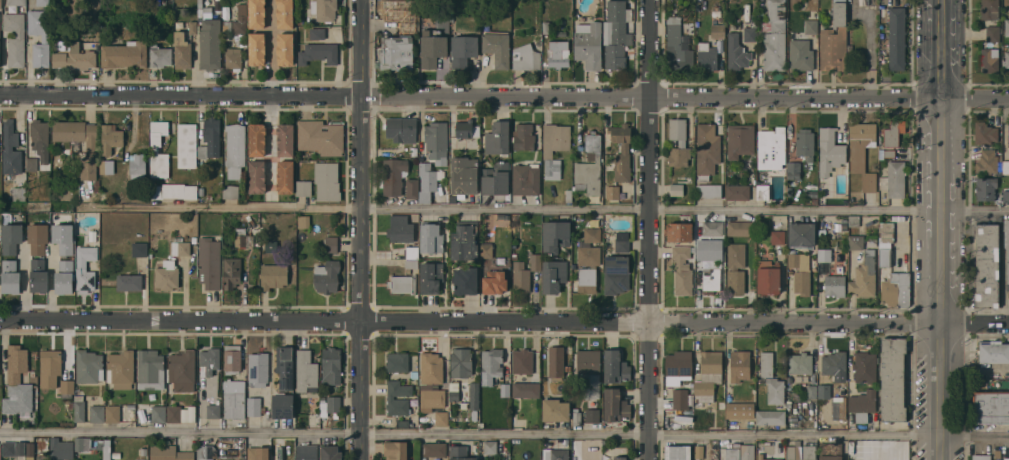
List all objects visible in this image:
building: (217, 0)
building: (16, 2)
building: (44, 2)
building: (0, 3)
building: (324, 9)
building: (989, 9)
building: (257, 13)
building: (285, 13)
building: (241, 19)
building: (300, 20)
building: (811, 22)
building: (227, 25)
building: (193, 27)
building: (545, 27)
building: (1007, 27)
building: (718, 30)
building: (317, 33)
building: (616, 33)
building: (749, 33)
building: (993, 33)
building: (774, 36)
building: (210, 37)
building: (15, 38)
building: (897, 38)
building: (45, 39)
building: (834, 39)
building: (589, 44)
road: (271, 47)
building: (497, 47)
building: (678, 47)
building: (257, 48)
building: (285, 48)
building: (0, 49)
building: (182, 50)
building: (433, 50)
building: (463, 50)
building: (396, 52)
building: (737, 52)
building: (319, 53)
building: (558, 53)
building: (125, 54)
building: (801, 54)
building: (160, 55)
building: (707, 56)
building: (75, 57)
building: (526, 57)
building: (234, 58)
building: (989, 59)
building: (1007, 59)
road: (504, 95)
building: (402, 129)
building: (466, 129)
building: (893, 132)
building: (985, 133)
building: (1008, 134)
building: (111, 137)
building: (321, 137)
building: (524, 137)
building: (211, 138)
building: (498, 138)
building: (257, 139)
building: (285, 139)
building: (436, 139)
building: (740, 140)
building: (41, 141)
building: (678, 142)
building: (805, 142)
road: (272, 144)
building: (187, 145)
building: (554, 147)
building: (625, 148)
building: (771, 148)
building: (11, 149)
building: (91, 149)
building: (155, 149)
building: (235, 149)
building: (707, 150)
building: (413, 151)
building: (830, 151)
building: (863, 153)
building: (889, 153)
building: (987, 161)
building: (31, 163)
building: (137, 165)
building: (107, 166)
building: (589, 166)
building: (1005, 167)
building: (793, 170)
building: (425, 171)
building: (1001, 172)
building: (464, 175)
building: (257, 176)
building: (285, 176)
building: (394, 176)
building: (496, 179)
building: (526, 179)
building: (894, 179)
building: (327, 181)
building: (96, 182)
building: (821, 185)
building: (304, 187)
building: (413, 188)
building: (986, 188)
building: (676, 189)
building: (173, 190)
building: (708, 190)
building: (231, 191)
building: (612, 191)
building: (737, 191)
building: (762, 191)
building: (789, 191)
building: (201, 192)
building: (18, 193)
building: (569, 195)
building: (1006, 196)
road: (504, 209)
building: (882, 217)
building: (514, 218)
building: (844, 220)
building: (854, 220)
building: (303, 221)
building: (844, 225)
building: (837, 226)
building: (712, 228)
building: (741, 228)
building: (401, 229)
road: (650, 229)
road: (939, 229)
road: (362, 230)
building: (679, 231)
building: (822, 232)
building: (93, 234)
building: (592, 234)
building: (801, 234)
building: (555, 235)
building: (11, 237)
building: (38, 237)
building: (243, 237)
building: (301, 237)
building: (431, 237)
building: (777, 237)
building: (63, 238)
building: (465, 240)
building: (622, 241)
building: (856, 242)
building: (331, 244)
building: (271, 245)
building: (180, 246)
building: (1007, 247)
building: (139, 249)
building: (486, 249)
building: (710, 249)
building: (502, 250)
building: (412, 252)
building: (92, 253)
building: (824, 254)
building: (885, 254)
building: (514, 256)
building: (210, 262)
building: (535, 262)
building: (411, 263)
building: (987, 265)
building: (735, 268)
building: (682, 269)
building: (232, 272)
building: (616, 273)
building: (801, 273)
building: (38, 275)
building: (167, 275)
building: (273, 275)
building: (554, 275)
building: (11, 276)
building: (64, 276)
building: (327, 276)
building: (587, 276)
building: (864, 276)
building: (431, 277)
building: (520, 277)
building: (768, 277)
building: (85, 278)
building: (465, 279)
building: (712, 280)
building: (129, 282)
building: (495, 282)
building: (403, 283)
building: (835, 285)
building: (896, 289)
road: (504, 321)
building: (993, 351)
building: (211, 357)
building: (232, 358)
building: (522, 361)
building: (398, 362)
building: (461, 362)
building: (557, 362)
building: (800, 363)
building: (834, 363)
building: (332, 365)
building: (491, 365)
building: (740, 365)
building: (89, 366)
building: (865, 366)
building: (50, 367)
building: (616, 367)
building: (678, 367)
building: (258, 368)
building: (286, 368)
building: (121, 369)
building: (151, 369)
building: (182, 370)
building: (307, 372)
building: (589, 372)
building: (708, 375)
building: (32, 376)
building: (893, 378)
building: (772, 379)
building: (18, 381)
building: (431, 381)
building: (67, 388)
building: (505, 389)
building: (526, 389)
building: (454, 391)
building: (813, 391)
building: (825, 391)
building: (474, 395)
building: (234, 398)
building: (680, 398)
building: (398, 401)
building: (71, 403)
building: (788, 403)
building: (863, 404)
building: (615, 405)
building: (79, 406)
building: (131, 406)
building: (255, 406)
building: (282, 406)
building: (330, 406)
building: (990, 406)
building: (839, 407)
building: (213, 410)
building: (555, 410)
building: (740, 410)
building: (97, 413)
building: (112, 413)
building: (159, 413)
building: (174, 413)
building: (592, 415)
building: (577, 416)
building: (771, 417)
building: (442, 418)
building: (421, 419)
building: (139, 421)
building: (402, 423)
road: (504, 434)
building: (568, 442)
building: (79, 443)
building: (490, 447)
building: (13, 448)
building: (61, 448)
building: (101, 448)
building: (434, 449)
building: (30, 450)
building: (397, 450)
building: (144, 451)
building: (699, 451)
building: (809, 451)
building: (830, 451)
building: (206, 452)
building: (307, 452)
building: (331, 452)
building: (678, 452)
building: (748, 452)
building: (794, 452)
building: (170, 453)
building: (258, 453)
building: (460, 453)
building: (998, 453)
building: (116, 454)
building: (555, 454)
building: (732, 454)
building: (760, 455)
building: (981, 457)
building: (622, 458)
building: (1006, 458)
building: (116, 459)

